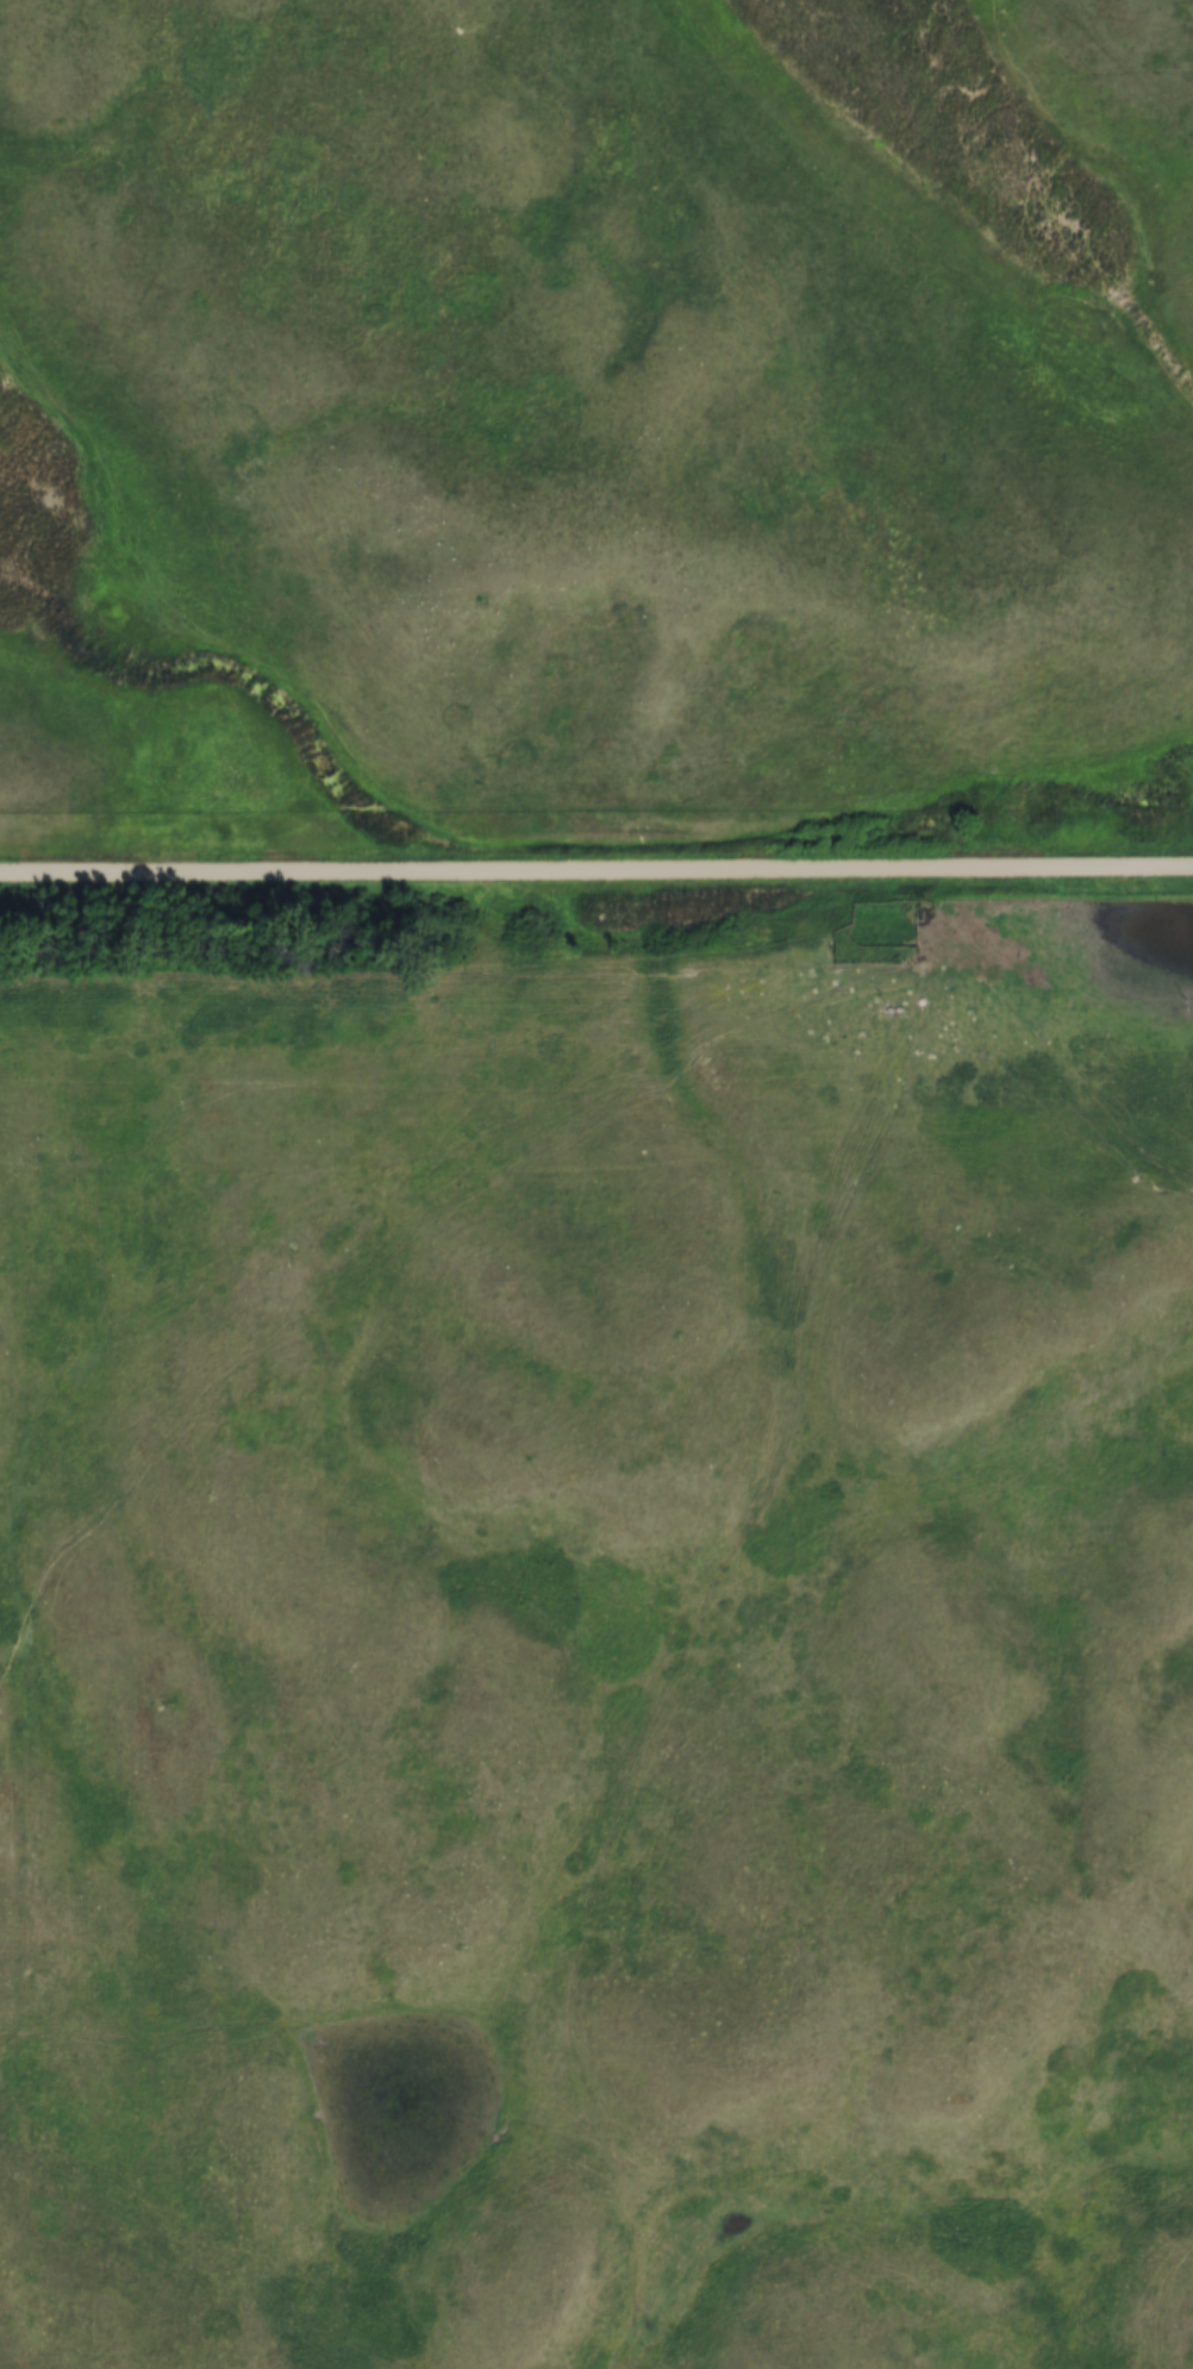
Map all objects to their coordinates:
road: (596, 874)

